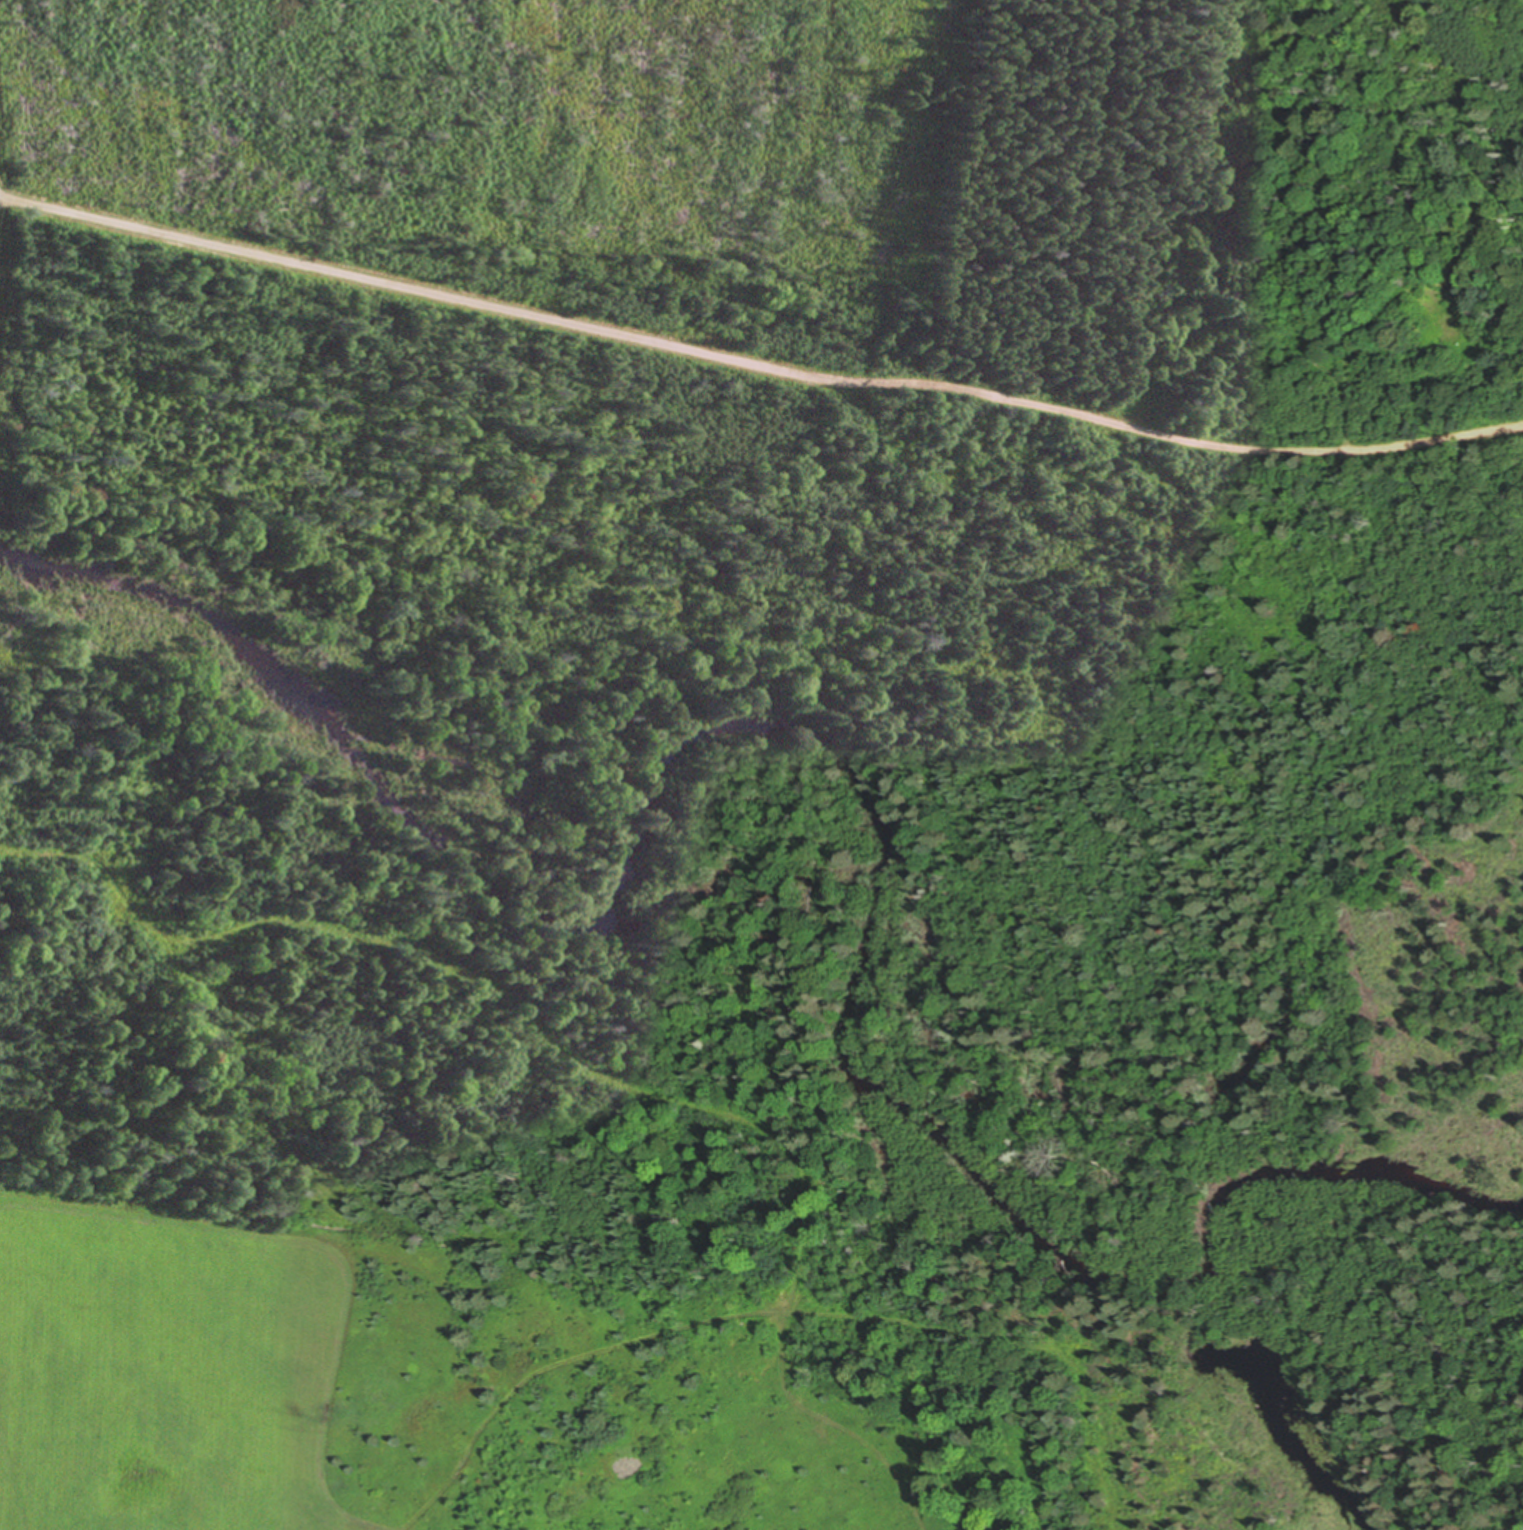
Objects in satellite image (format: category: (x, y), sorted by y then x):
road: (757, 362)
river: (681, 760)
river: (1356, 1178)

